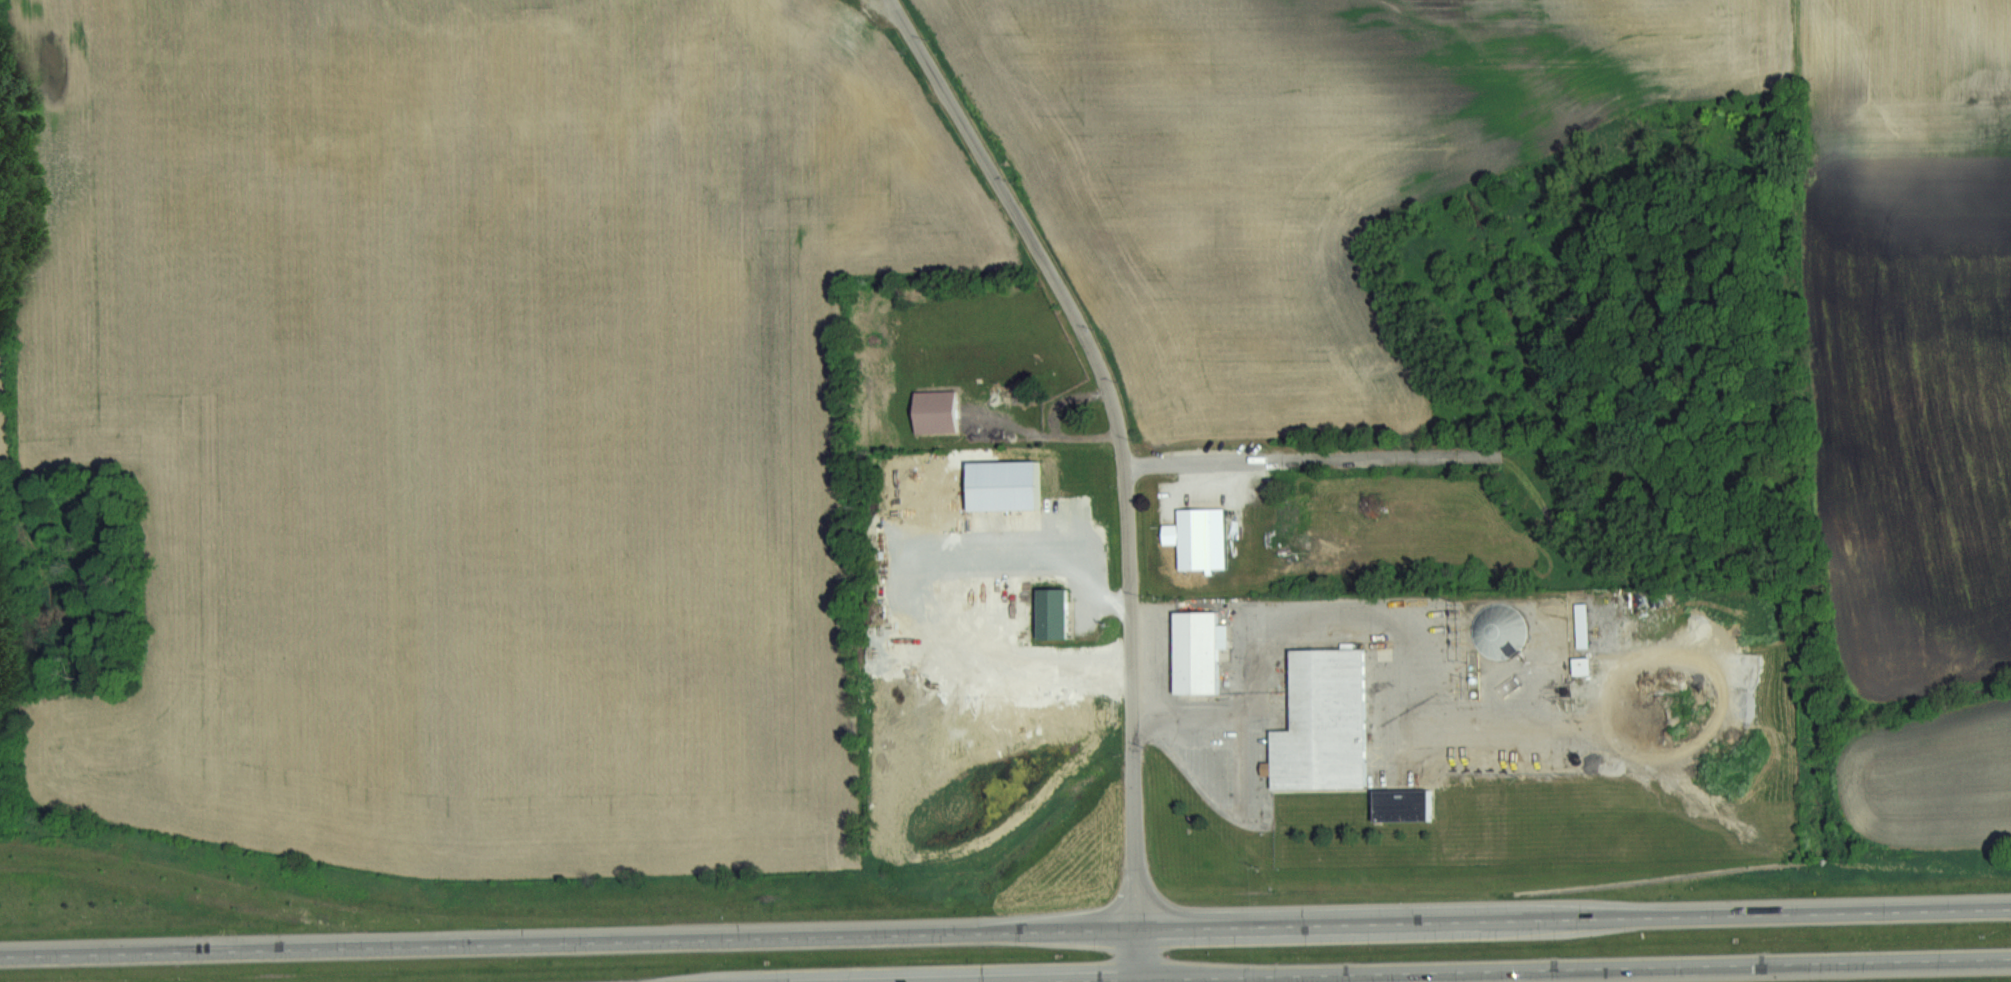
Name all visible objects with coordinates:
building: (816, 29)
building: (940, 411)
road: (1117, 434)
road: (1310, 458)
building: (1199, 538)
building: (1056, 613)
building: (1587, 625)
building: (1201, 652)
building: (1588, 666)
building: (1328, 723)
road: (1005, 931)
road: (1134, 954)
road: (1488, 969)

